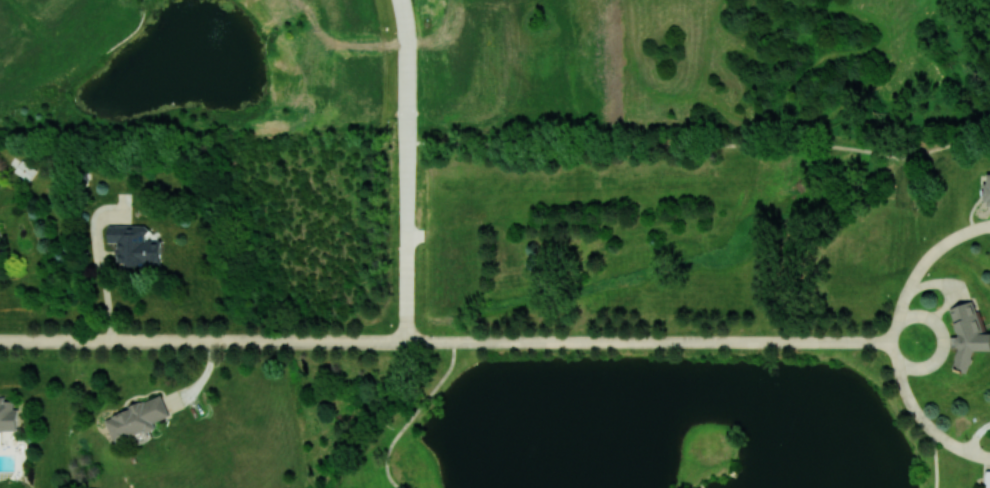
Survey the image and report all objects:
road: (406, 57)
road: (408, 123)
building: (27, 170)
building: (987, 191)
road: (407, 236)
building: (134, 245)
road: (103, 278)
building: (967, 335)
road: (943, 339)
road: (203, 340)
road: (729, 340)
road: (412, 414)
road: (919, 414)
building: (8, 415)
building: (136, 418)
road: (936, 460)
building: (988, 479)
road: (701, 484)

